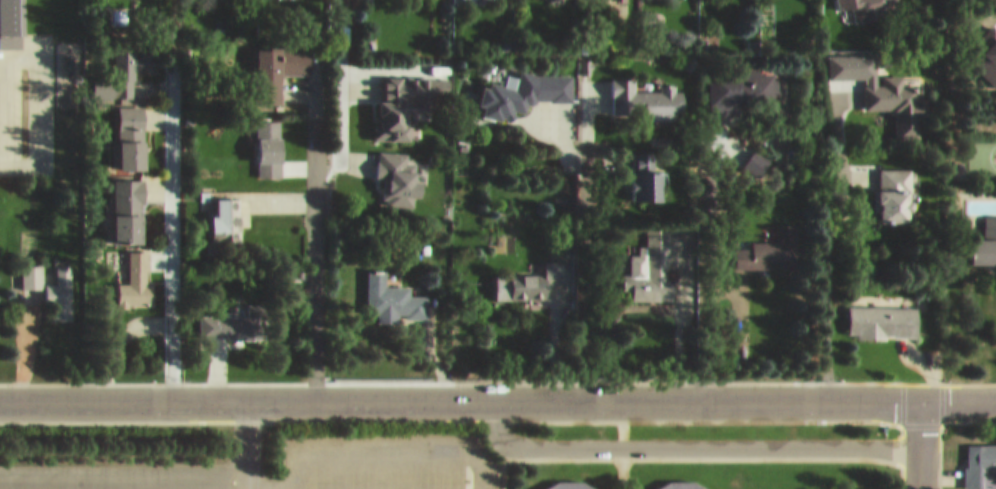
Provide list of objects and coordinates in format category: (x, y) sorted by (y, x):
building: (838, 0)
building: (872, 4)
building: (648, 7)
building: (12, 19)
building: (128, 60)
building: (279, 61)
road: (336, 76)
building: (740, 82)
building: (524, 84)
building: (643, 92)
building: (897, 95)
building: (392, 99)
building: (132, 128)
building: (269, 139)
road: (324, 152)
building: (756, 154)
building: (645, 167)
building: (398, 169)
building: (896, 186)
building: (128, 202)
building: (226, 211)
road: (699, 226)
building: (986, 234)
road: (170, 237)
building: (770, 241)
road: (312, 253)
building: (649, 260)
building: (31, 272)
building: (136, 272)
building: (531, 272)
building: (59, 284)
building: (390, 289)
road: (825, 299)
building: (883, 311)
building: (229, 316)
road: (498, 395)
road: (691, 437)
road: (406, 440)
road: (918, 441)
road: (242, 442)
building: (980, 456)
parking lot: (268, 462)
road: (292, 464)
building: (566, 481)
building: (678, 481)
building: (975, 486)

